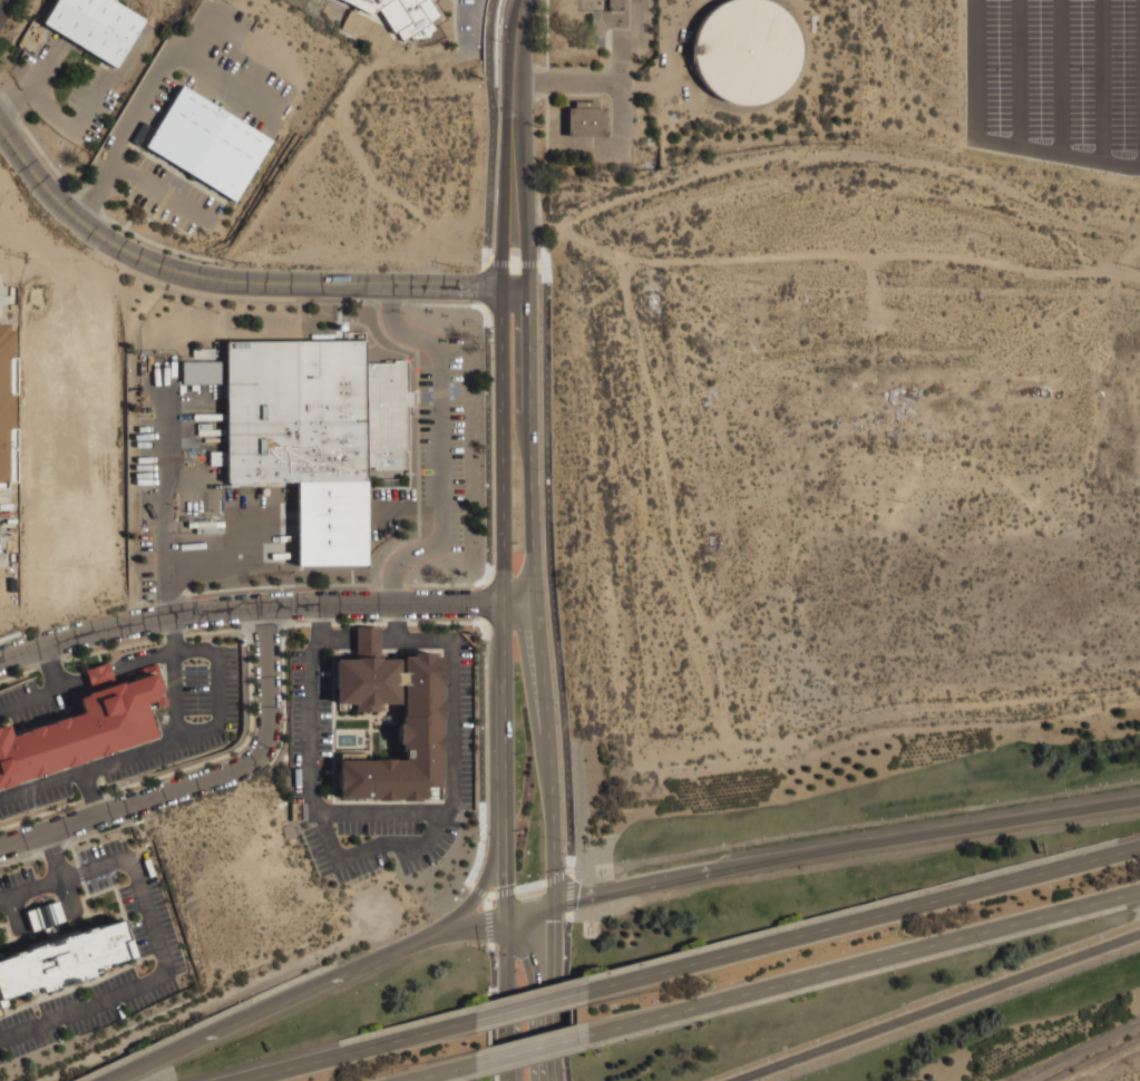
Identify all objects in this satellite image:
road: (2, 4)
parking lot: (6, 9)
building: (405, 14)
park: (409, 25)
road: (479, 26)
building: (87, 27)
parking lot: (472, 27)
road: (515, 39)
building: (746, 50)
storage tank: (746, 50)
road: (133, 58)
parking lot: (233, 67)
parking lot: (1058, 77)
road: (36, 80)
road: (566, 80)
road: (620, 84)
road: (90, 104)
parking lot: (92, 104)
road: (50, 109)
building: (586, 123)
road: (121, 127)
building: (208, 142)
road: (620, 148)
parking lot: (614, 150)
road: (124, 167)
parking lot: (173, 196)
road: (175, 196)
road: (234, 281)
road: (399, 331)
building: (203, 352)
building: (203, 371)
building: (4, 408)
building: (315, 432)
parking lot: (442, 444)
road: (441, 445)
road: (495, 452)
road: (532, 491)
road: (503, 497)
road: (269, 504)
road: (166, 513)
parking lot: (262, 526)
road: (289, 554)
road: (204, 572)
road: (397, 604)
road: (264, 605)
road: (320, 627)
road: (359, 636)
road: (554, 645)
road: (115, 669)
road: (176, 688)
road: (29, 697)
parking lot: (29, 701)
building: (87, 724)
parking lot: (311, 725)
road: (177, 727)
building: (421, 731)
parking lot: (195, 732)
road: (145, 749)
road: (202, 780)
road: (91, 792)
road: (383, 810)
road: (932, 834)
road: (377, 844)
road: (55, 856)
road: (61, 879)
parking lot: (16, 882)
road: (489, 888)
road: (615, 889)
road: (19, 893)
traffic signals: (554, 903)
building: (47, 915)
road: (47, 915)
traffic signals: (507, 916)
road: (863, 919)
road: (475, 924)
parking lot: (154, 928)
road: (489, 949)
road: (507, 958)
building: (66, 960)
road: (864, 965)
road: (163, 975)
road: (304, 991)
road: (555, 992)
road: (527, 1005)
road: (933, 1010)
road: (507, 1041)
road: (352, 1050)
road: (530, 1051)
road: (137, 1065)
road: (445, 1073)

